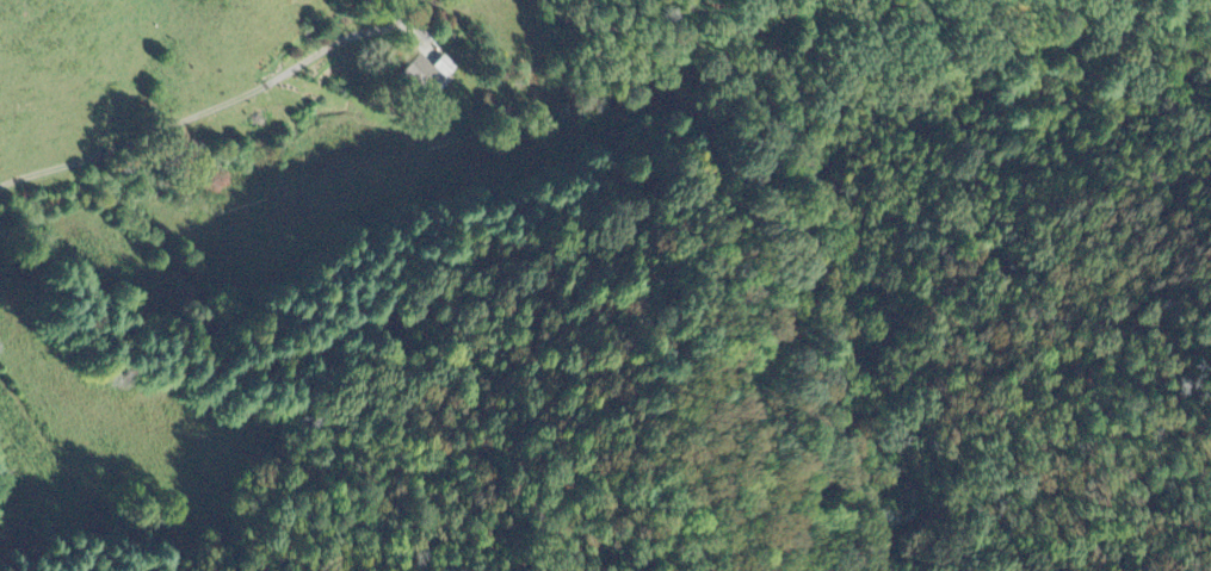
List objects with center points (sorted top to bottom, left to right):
road: (344, 38)
building: (446, 62)
building: (424, 73)
road: (132, 139)

